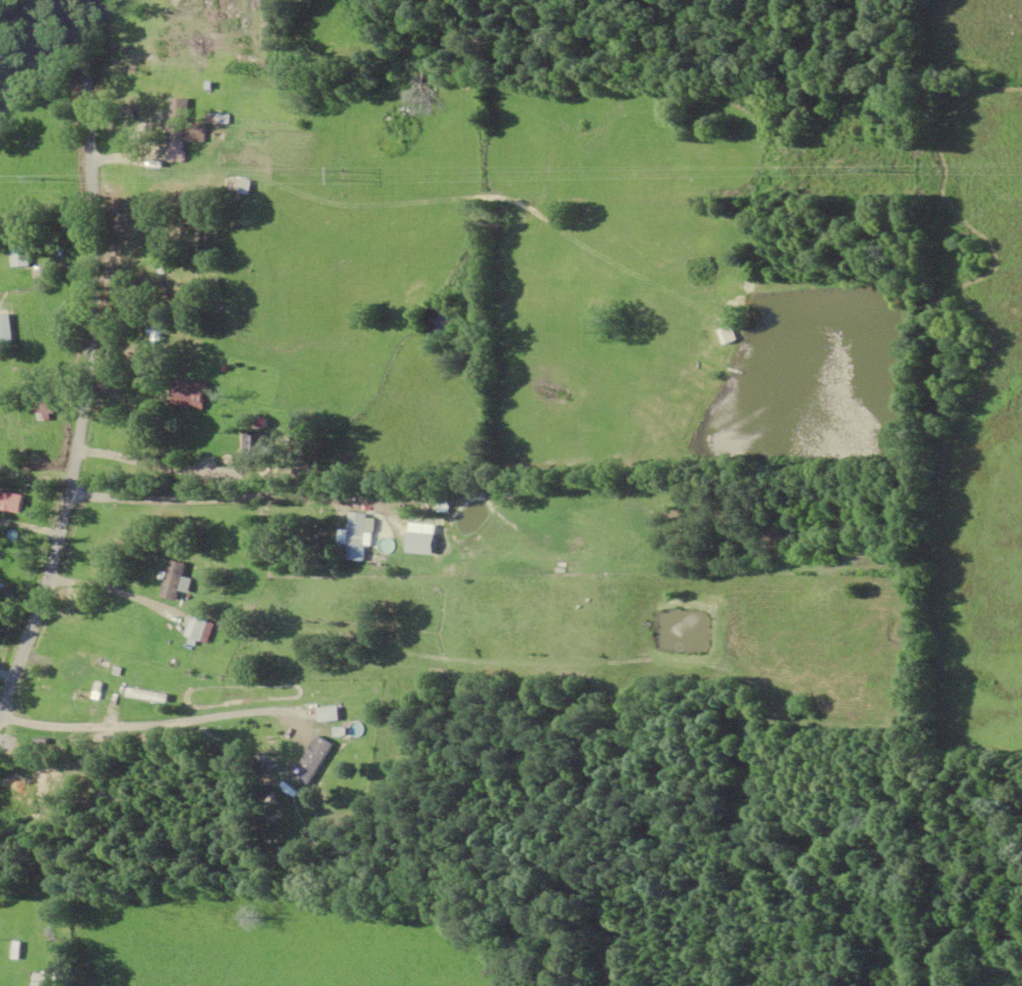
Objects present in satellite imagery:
building: (177, 139)
building: (240, 185)
building: (22, 247)
building: (146, 328)
building: (6, 329)
road: (91, 392)
building: (190, 393)
building: (44, 409)
building: (255, 450)
building: (15, 498)
building: (358, 536)
building: (423, 543)
building: (175, 580)
building: (73, 666)
building: (314, 759)
building: (36, 786)

